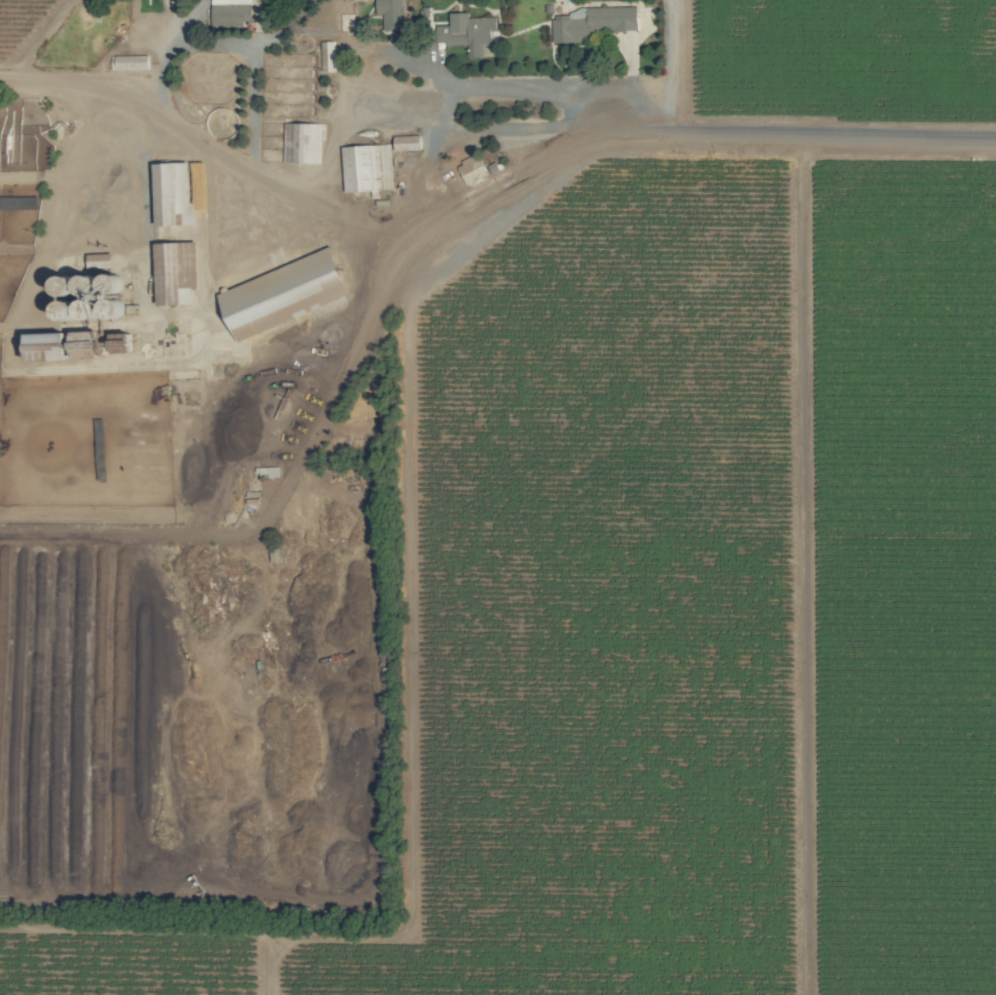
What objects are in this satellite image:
building: (389, 11)
building: (230, 12)
building: (590, 22)
road: (284, 28)
building: (471, 31)
road: (40, 38)
road: (176, 42)
building: (329, 44)
building: (130, 61)
road: (677, 67)
road: (467, 82)
road: (253, 116)
road: (506, 129)
building: (302, 141)
building: (367, 167)
building: (174, 186)
road: (516, 195)
building: (284, 292)
crop: (498, 497)

